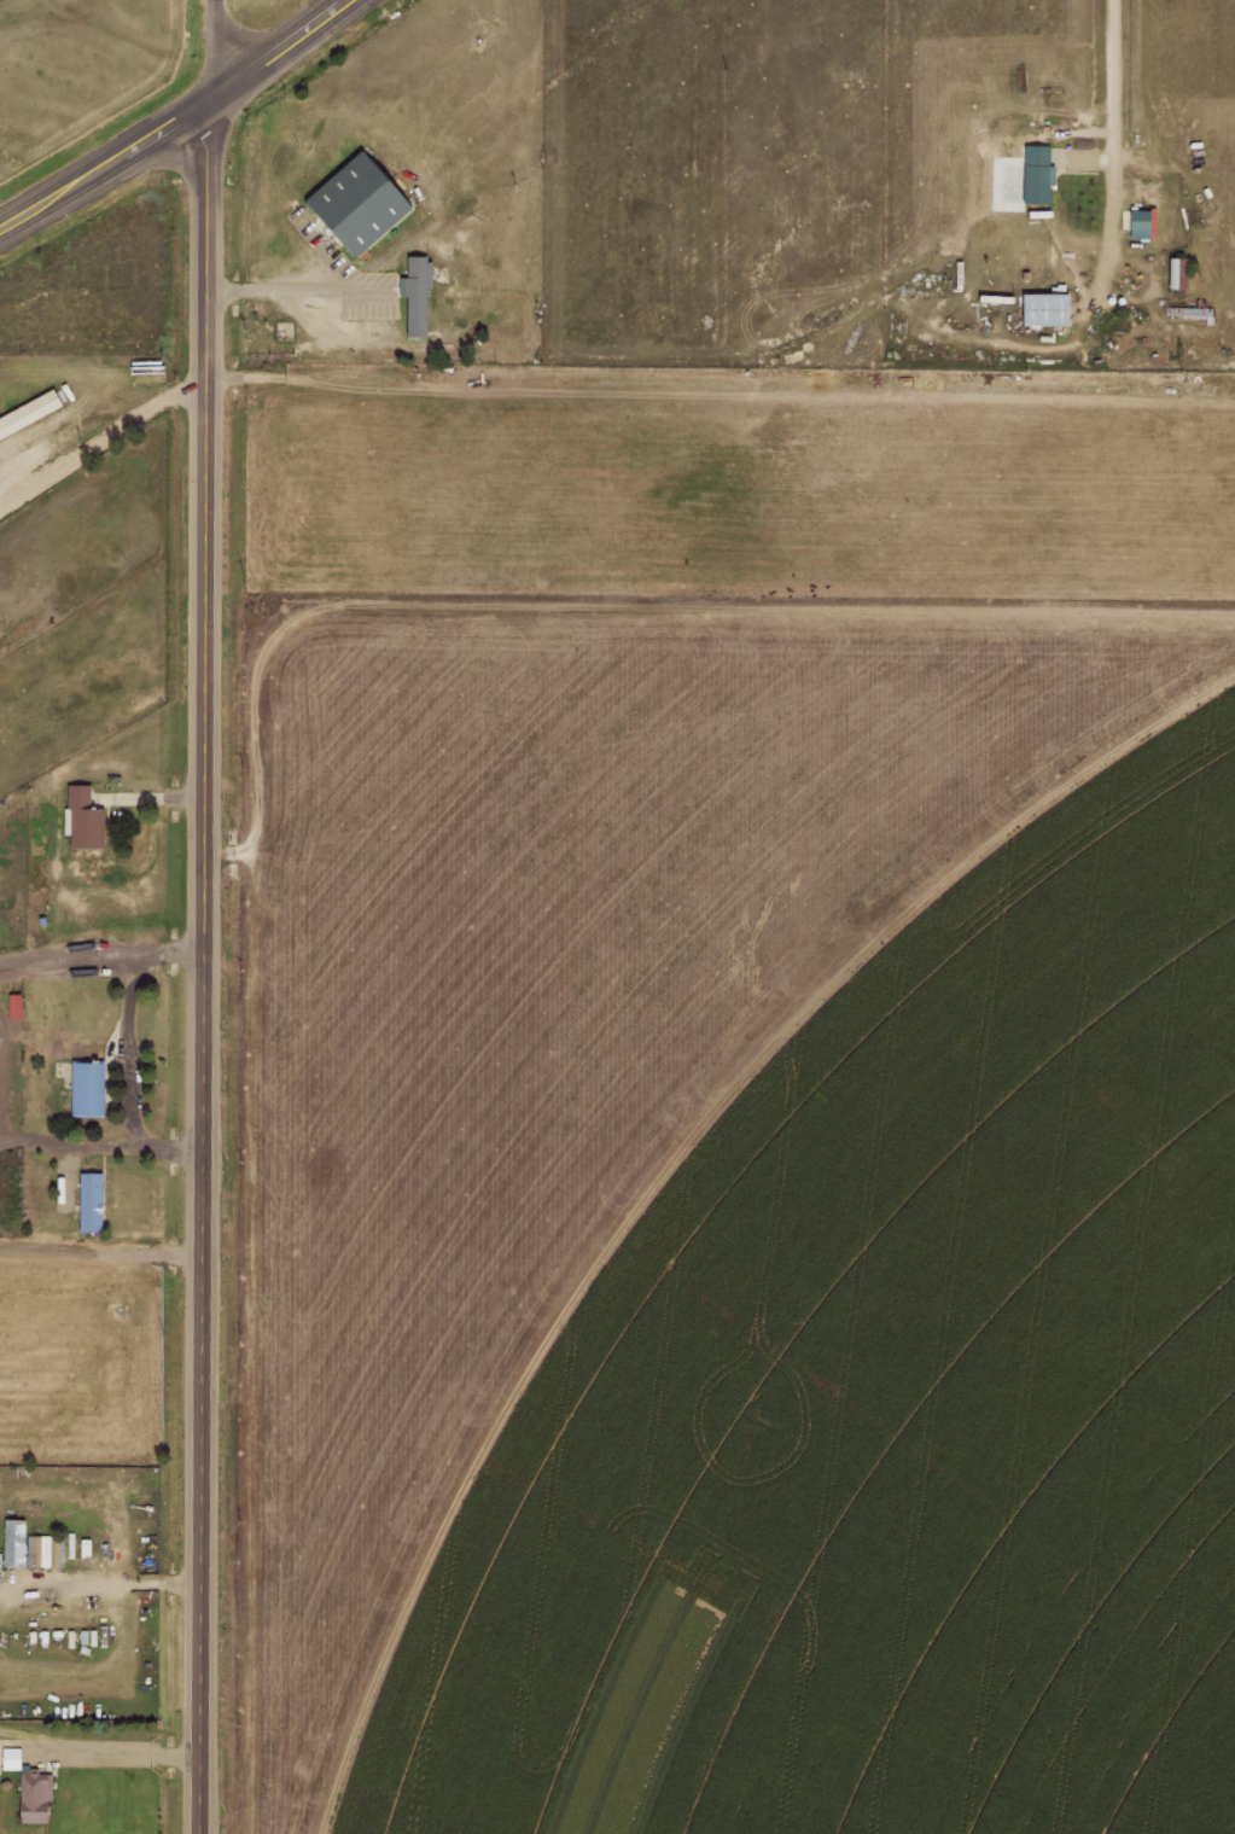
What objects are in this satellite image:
road: (210, 50)
road: (175, 117)
road: (1114, 156)
building: (1019, 177)
building: (356, 203)
building: (1136, 223)
road: (319, 254)
building: (1173, 272)
road: (295, 289)
building: (416, 295)
building: (1044, 305)
building: (28, 413)
building: (82, 819)
road: (205, 966)
building: (57, 1050)
building: (85, 1088)
building: (86, 1201)
building: (11, 1543)
building: (8, 1758)
building: (30, 1795)

